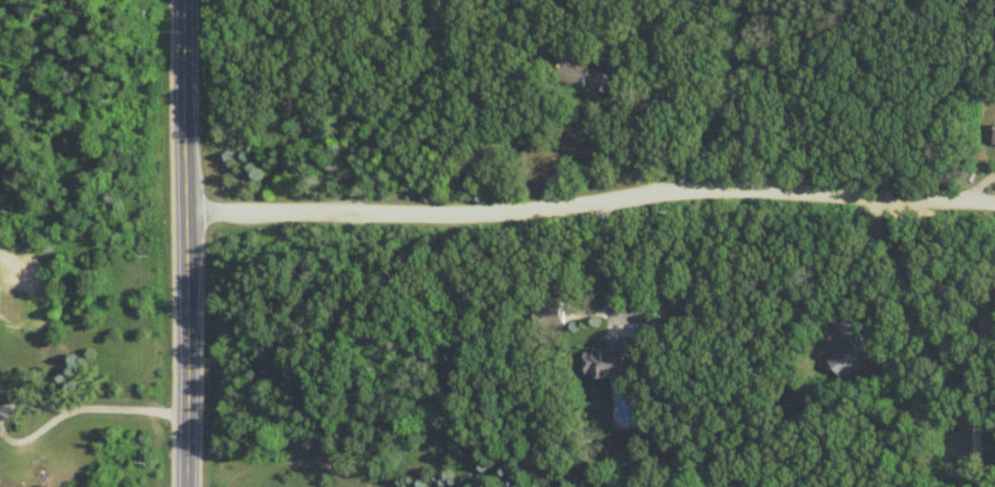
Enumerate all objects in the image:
building: (591, 79)
road: (759, 94)
road: (658, 137)
road: (590, 202)
road: (185, 243)
road: (870, 253)
road: (606, 255)
building: (551, 317)
road: (939, 344)
building: (850, 357)
building: (609, 360)
road: (45, 407)

